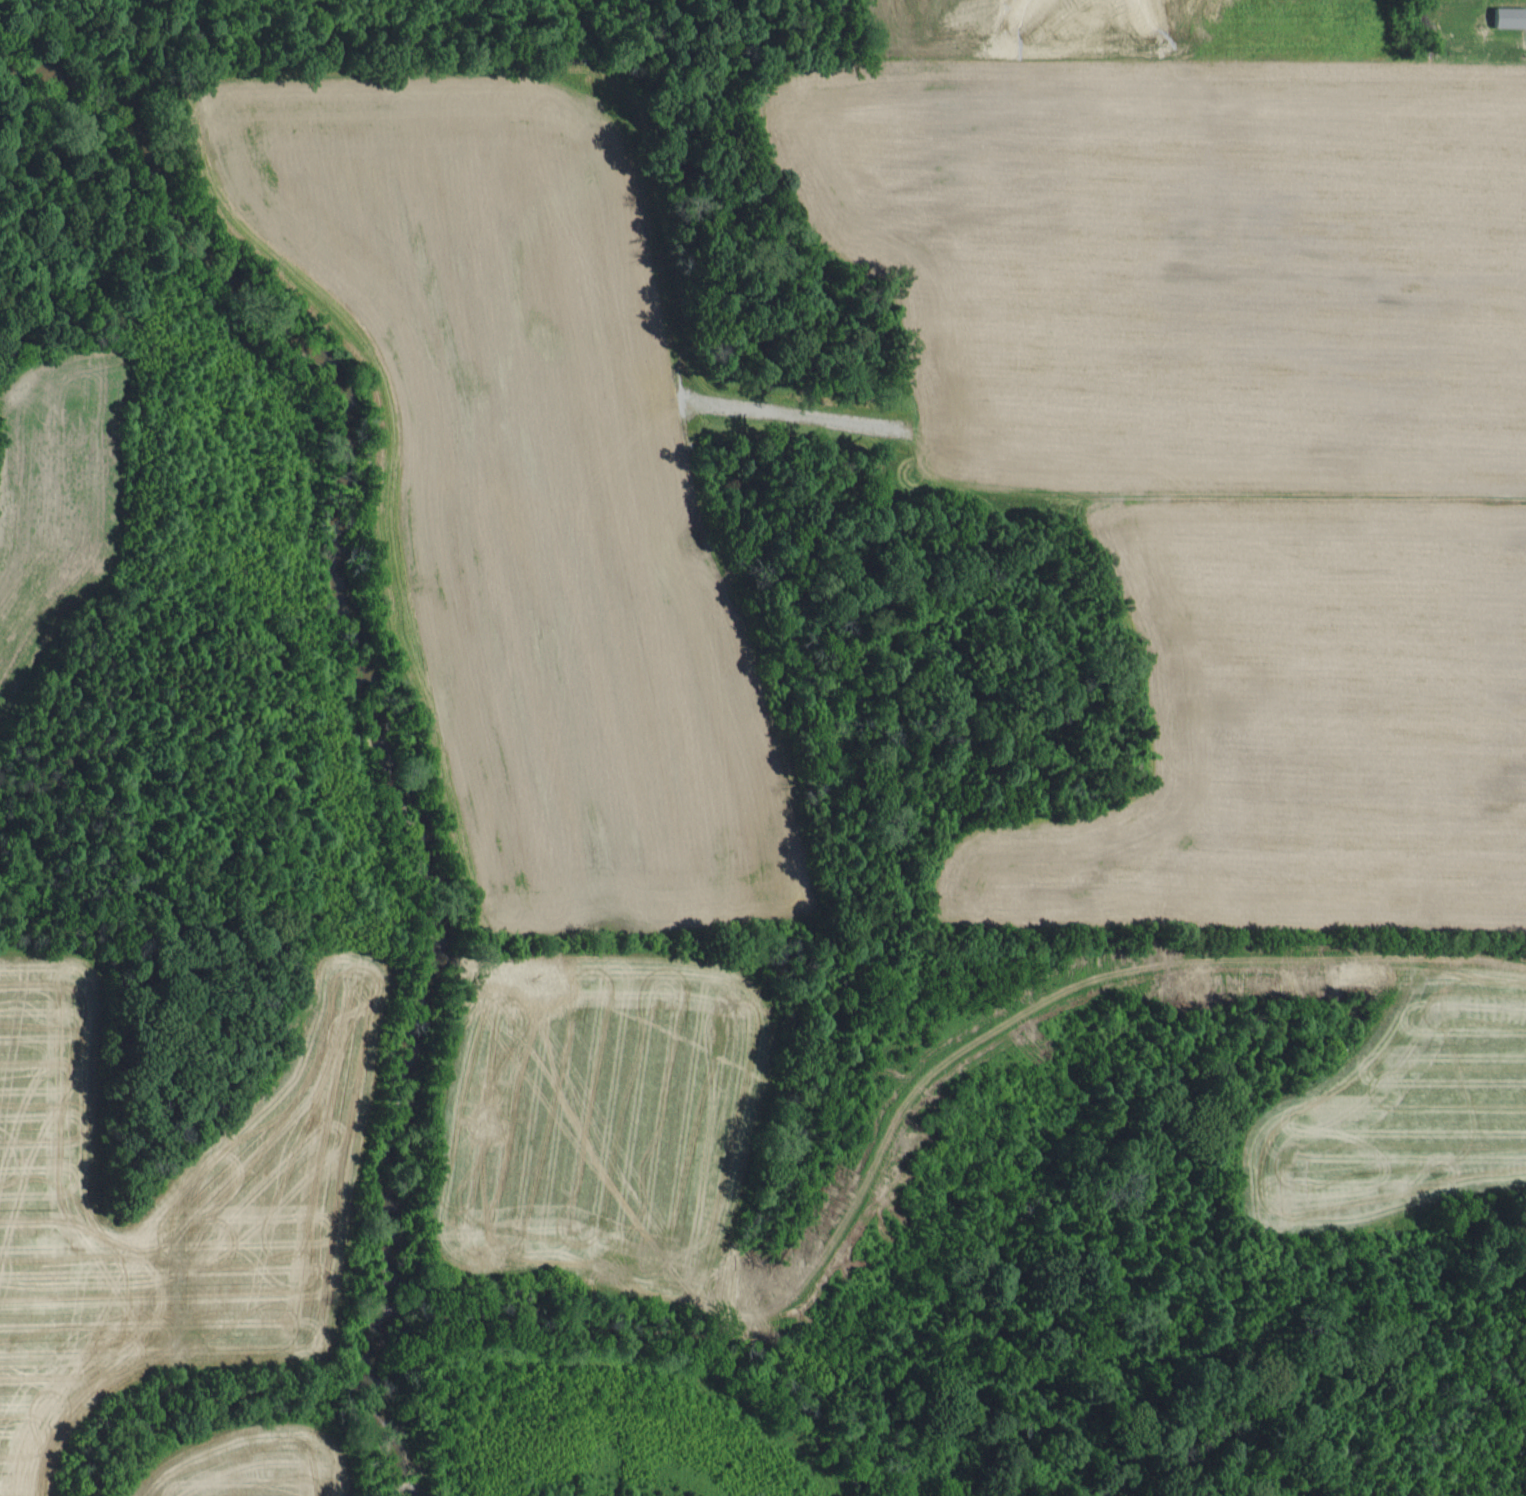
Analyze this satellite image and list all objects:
building: (1505, 15)

